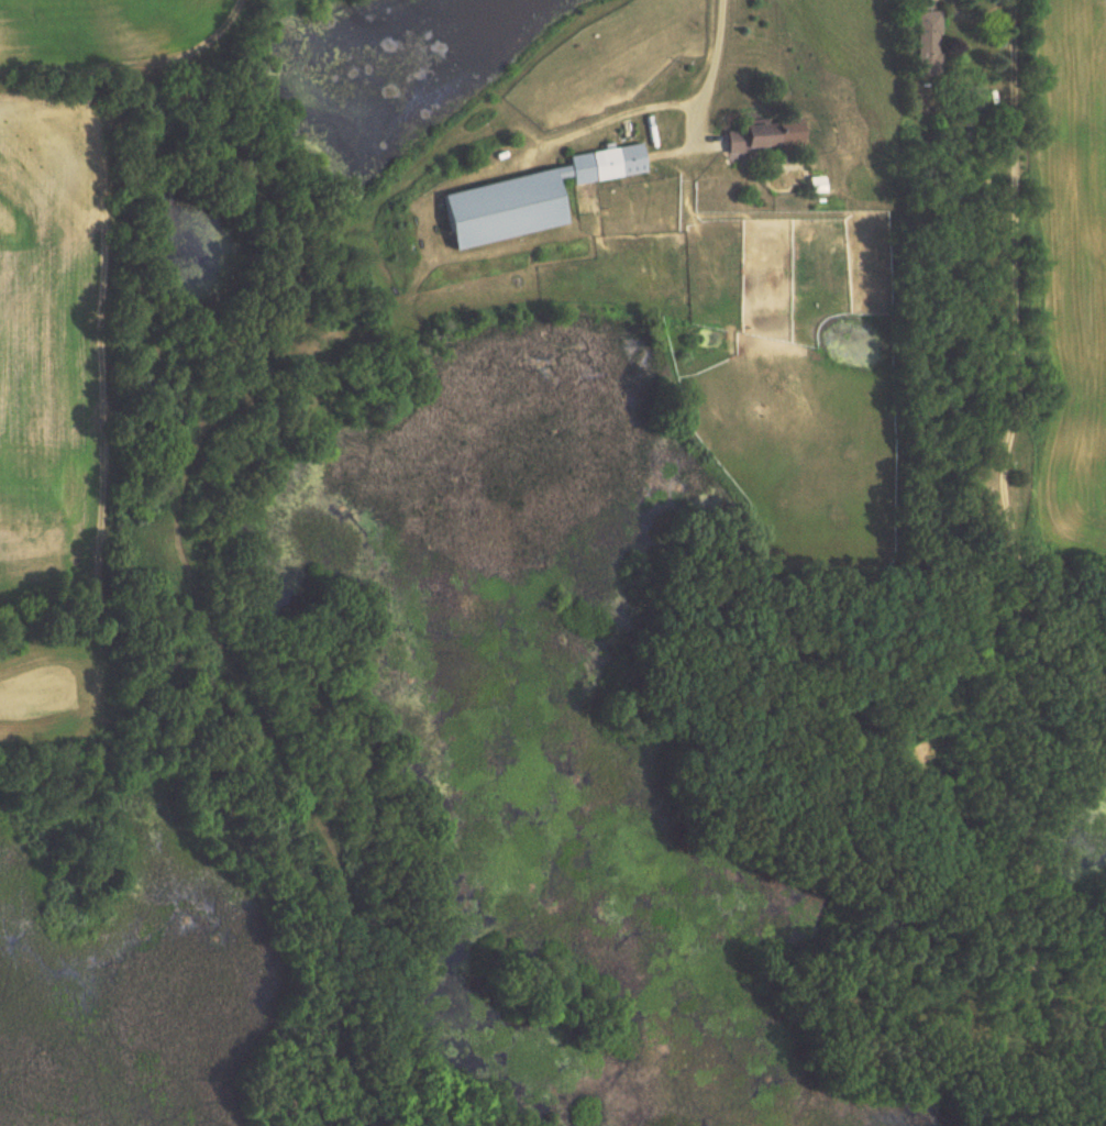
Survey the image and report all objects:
building: (928, 43)
road: (712, 67)
building: (973, 98)
building: (748, 135)
building: (522, 198)
road: (1014, 539)

